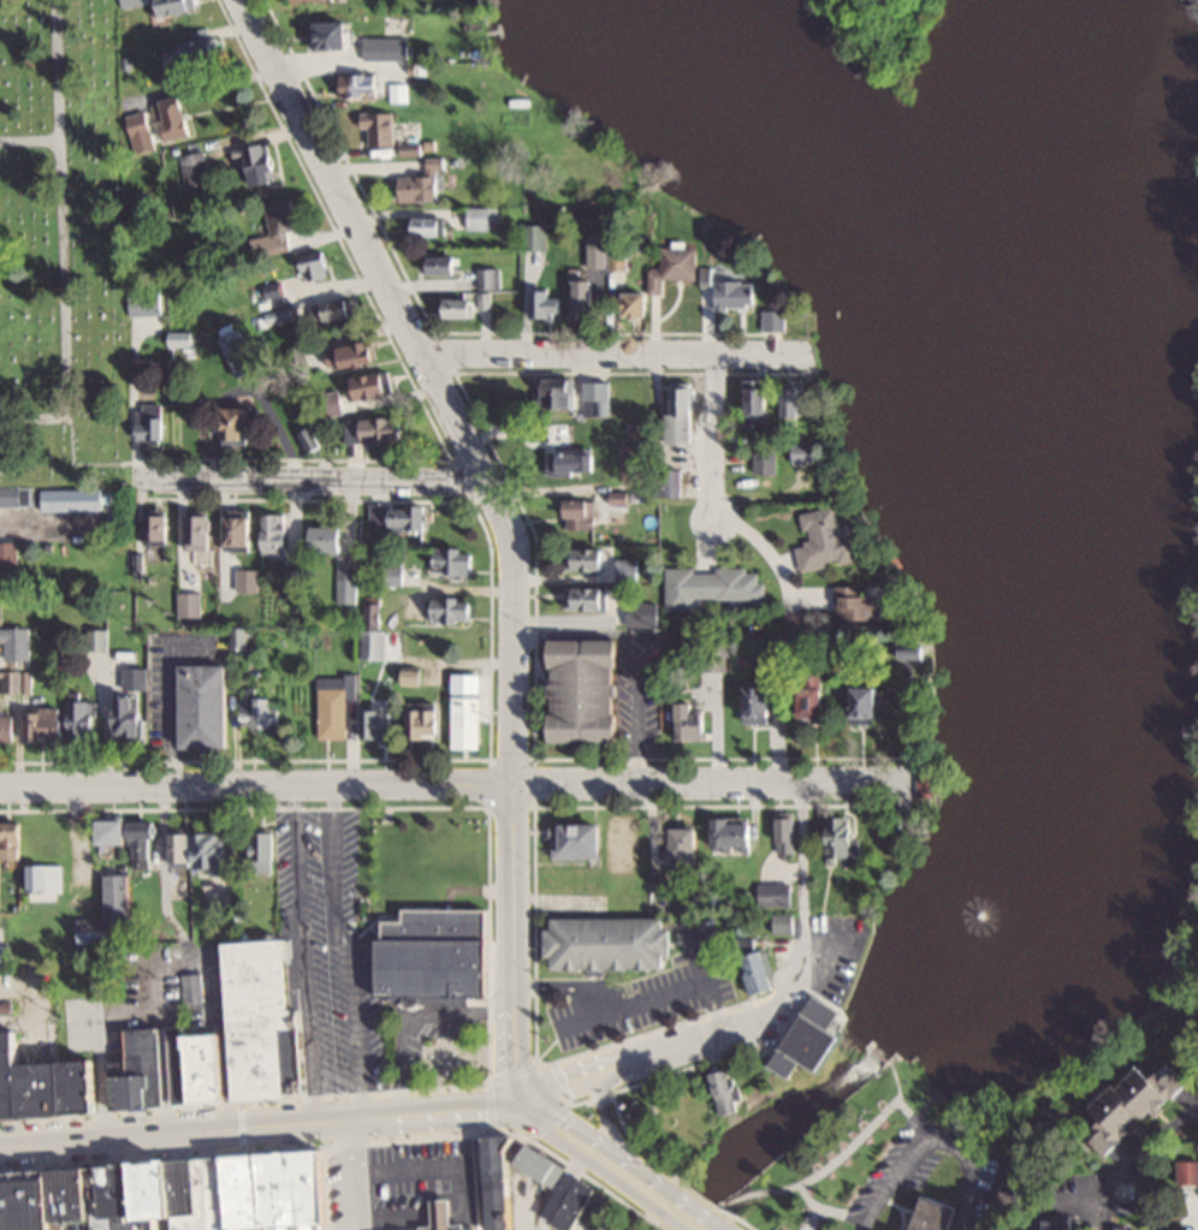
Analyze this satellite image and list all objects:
building: (130, 2)
building: (172, 7)
building: (331, 34)
building: (387, 47)
building: (201, 48)
building: (360, 85)
building: (173, 115)
building: (381, 129)
building: (261, 164)
building: (195, 168)
building: (423, 183)
building: (481, 218)
building: (428, 226)
building: (277, 228)
building: (533, 237)
park: (61, 248)
building: (609, 257)
building: (446, 263)
building: (316, 265)
building: (665, 277)
building: (488, 278)
building: (737, 293)
building: (583, 297)
building: (146, 302)
building: (545, 303)
building: (465, 305)
building: (332, 310)
building: (776, 319)
building: (183, 337)
building: (238, 353)
building: (293, 355)
road: (619, 355)
building: (369, 386)
building: (565, 396)
building: (597, 398)
building: (760, 402)
building: (686, 414)
building: (152, 422)
building: (239, 423)
building: (384, 428)
building: (351, 430)
road: (713, 435)
building: (309, 439)
building: (806, 451)
building: (574, 462)
building: (767, 462)
road: (310, 480)
building: (670, 481)
building: (34, 494)
building: (627, 495)
building: (8, 497)
building: (581, 513)
building: (401, 516)
road: (505, 517)
building: (158, 527)
building: (237, 528)
building: (200, 531)
building: (273, 531)
building: (326, 537)
building: (828, 540)
building: (10, 552)
building: (589, 557)
building: (455, 558)
building: (628, 568)
building: (391, 575)
building: (245, 578)
building: (348, 582)
building: (713, 584)
building: (588, 596)
building: (858, 602)
building: (452, 607)
building: (1, 610)
building: (644, 613)
river: (1037, 636)
building: (95, 637)
building: (243, 637)
building: (793, 638)
building: (17, 641)
building: (370, 642)
building: (716, 656)
building: (464, 682)
building: (589, 689)
building: (818, 690)
building: (7, 700)
building: (333, 702)
building: (760, 703)
building: (868, 703)
building: (206, 705)
building: (257, 708)
building: (129, 715)
building: (61, 720)
building: (423, 720)
building: (465, 720)
building: (380, 721)
building: (693, 721)
building: (930, 782)
road: (461, 785)
building: (734, 833)
building: (789, 834)
building: (130, 837)
building: (844, 837)
building: (12, 838)
building: (580, 839)
building: (43, 840)
building: (182, 848)
building: (212, 849)
building: (266, 850)
building: (690, 850)
building: (777, 893)
building: (107, 915)
building: (389, 921)
building: (783, 922)
building: (613, 943)
building: (433, 965)
building: (189, 986)
road: (731, 1028)
building: (244, 1030)
building: (813, 1038)
building: (138, 1071)
road: (567, 1082)
building: (46, 1083)
building: (730, 1091)
traffic signals: (536, 1093)
building: (1134, 1105)
road: (609, 1121)
road: (269, 1124)
road: (579, 1134)
park: (864, 1147)
building: (1188, 1171)
building: (505, 1180)
road: (650, 1183)
road: (771, 1187)
building: (176, 1194)
building: (586, 1205)
building: (449, 1213)
road: (695, 1213)
building: (936, 1216)
building: (1052, 1225)

